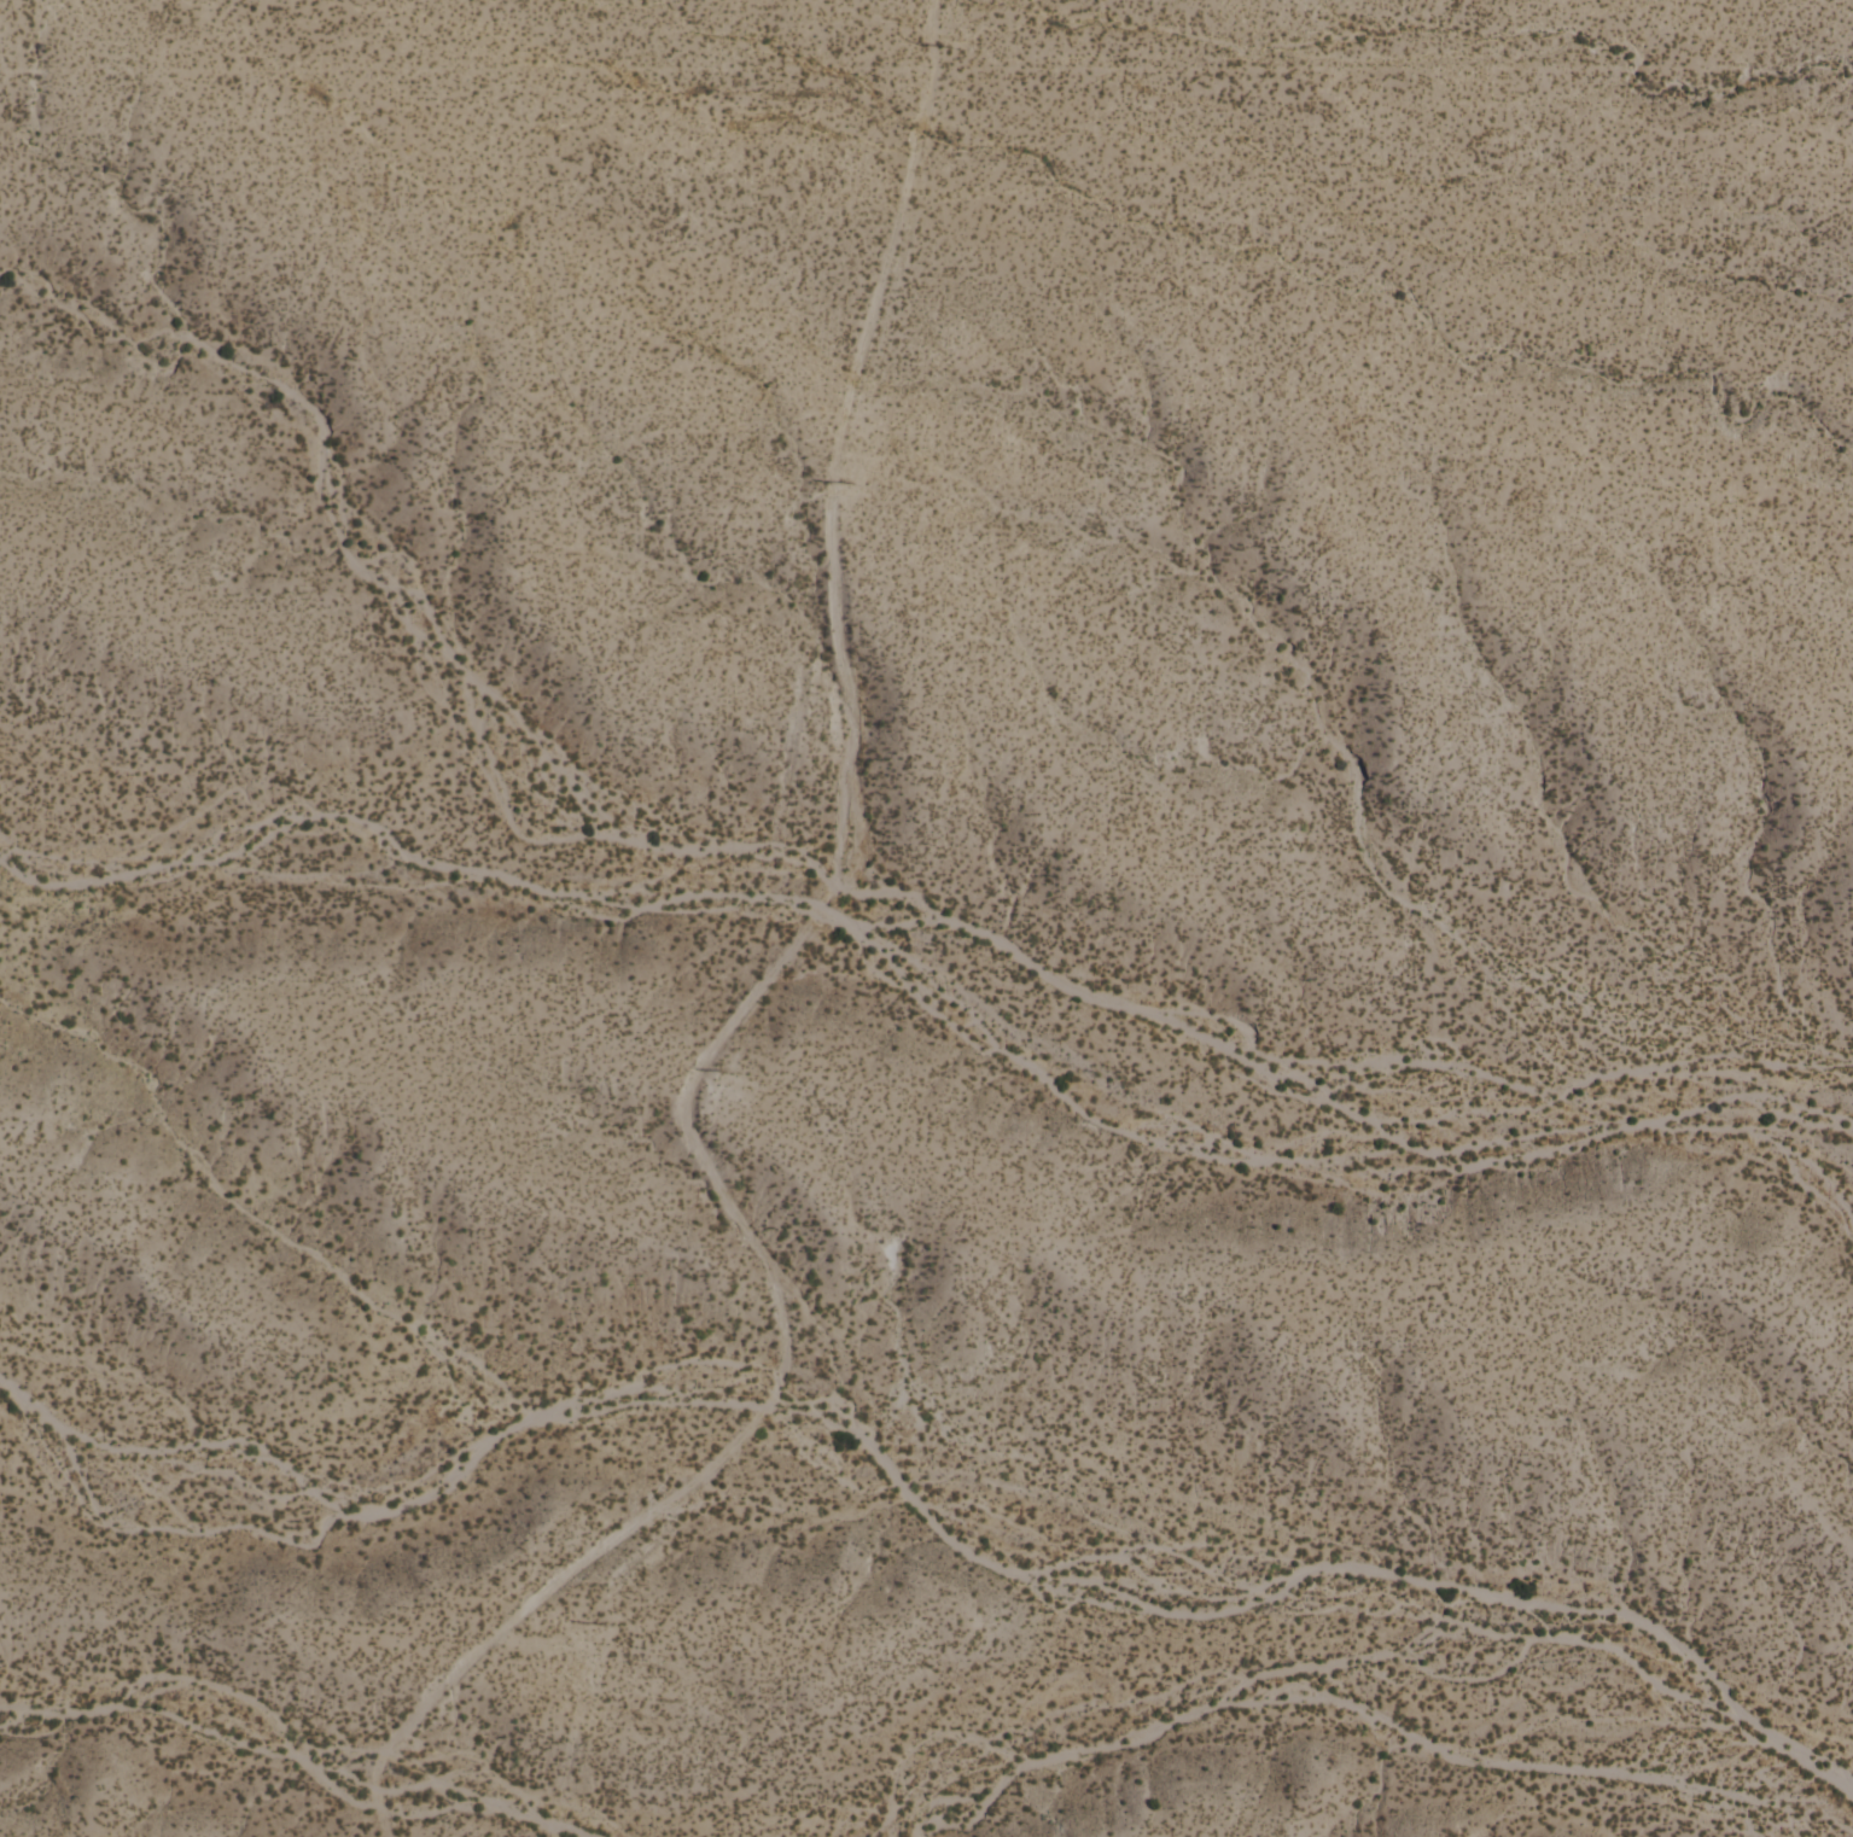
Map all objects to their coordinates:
road: (747, 1007)

